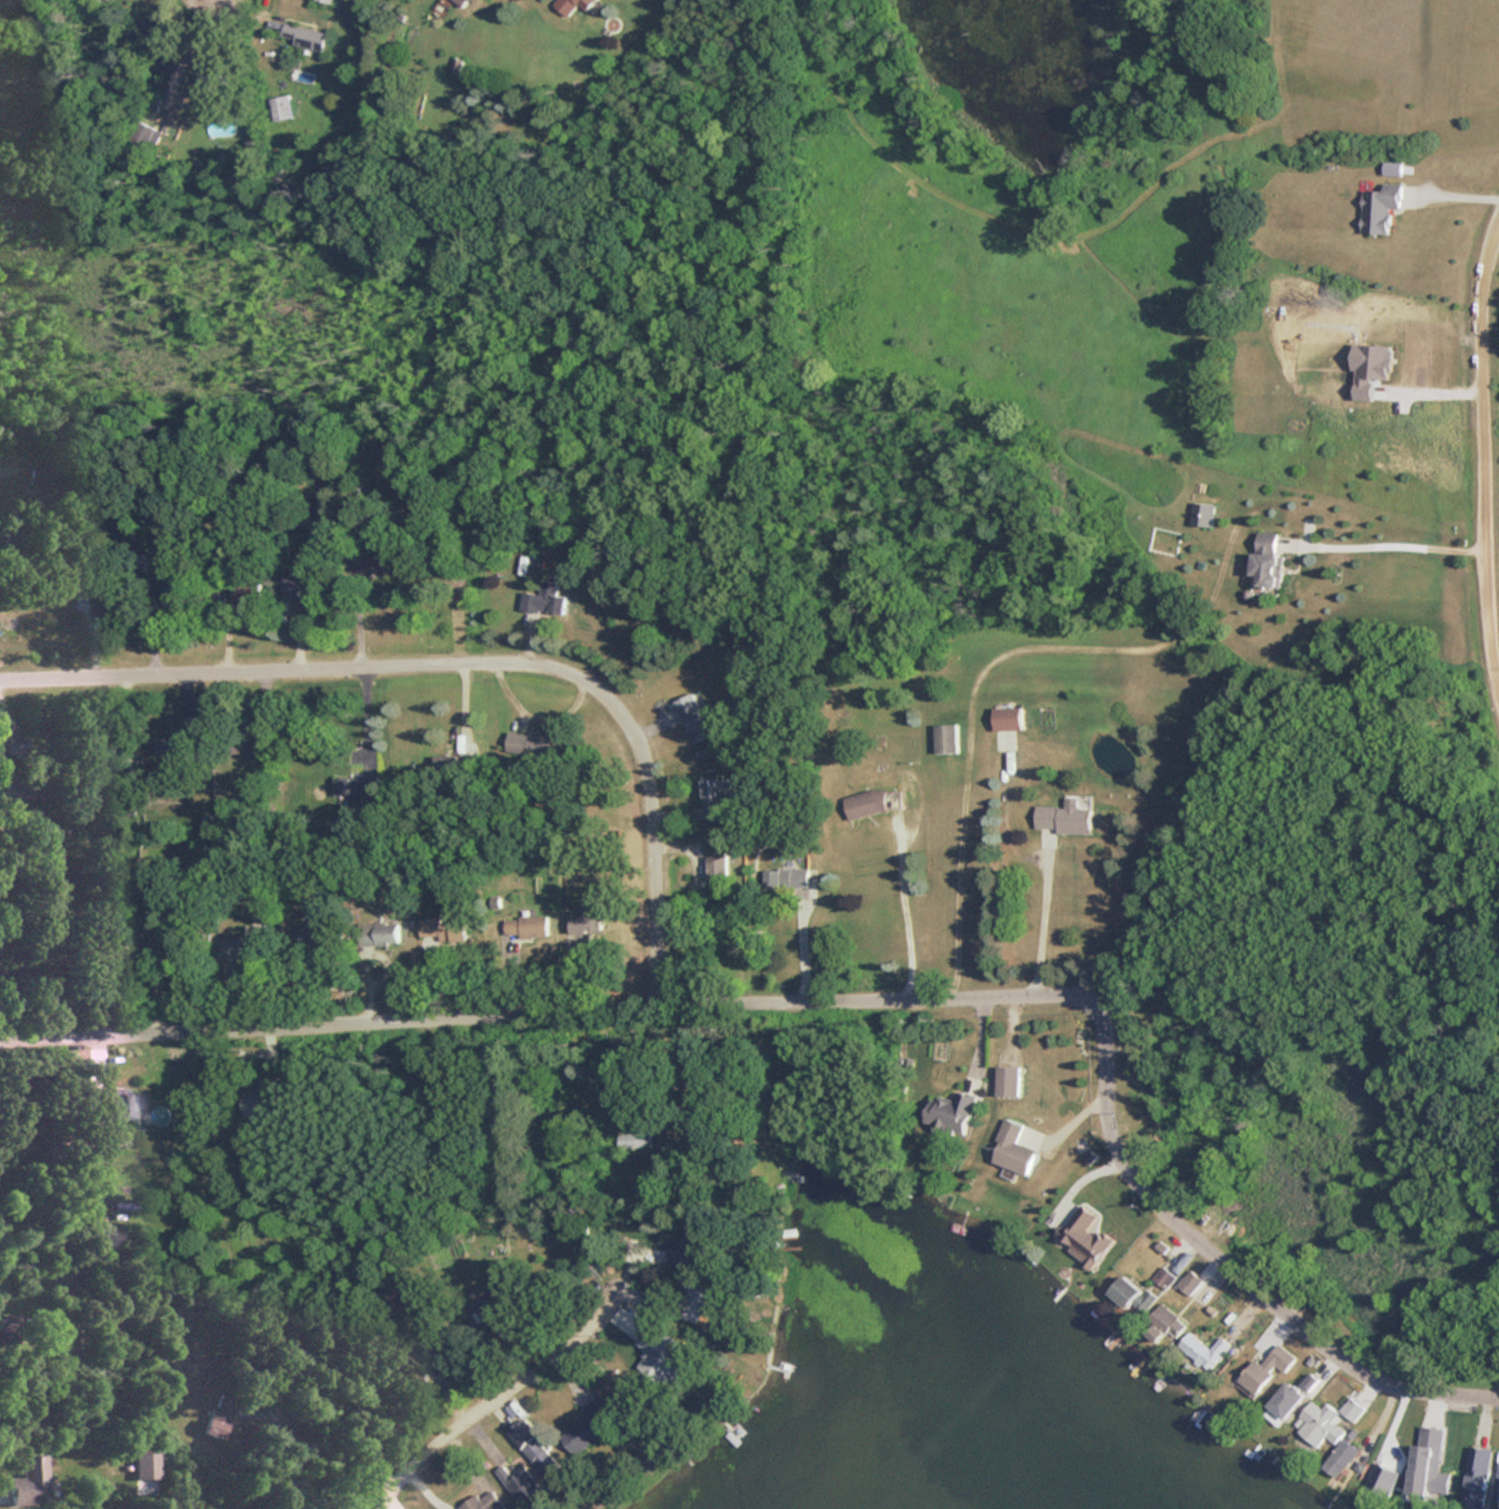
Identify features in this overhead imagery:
building: (459, 3)
building: (571, 5)
building: (303, 36)
road: (189, 46)
park: (1341, 46)
building: (221, 81)
building: (278, 107)
building: (143, 135)
road: (1452, 194)
building: (1377, 207)
road: (1490, 443)
building: (1201, 515)
road: (1406, 546)
building: (377, 556)
building: (1266, 562)
building: (301, 586)
building: (546, 600)
road: (473, 656)
building: (691, 718)
building: (1007, 719)
building: (945, 738)
building: (529, 746)
building: (712, 799)
building: (864, 803)
building: (1064, 816)
building: (715, 870)
building: (779, 878)
road: (906, 917)
building: (584, 925)
building: (523, 926)
building: (440, 928)
road: (1041, 928)
building: (313, 938)
road: (808, 946)
building: (238, 949)
building: (163, 952)
road: (559, 1010)
building: (1007, 1082)
building: (260, 1102)
building: (115, 1103)
building: (950, 1114)
building: (631, 1141)
building: (1012, 1149)
building: (1085, 1239)
building: (689, 1249)
road: (1239, 1273)
building: (1165, 1277)
building: (393, 1294)
building: (1133, 1296)
building: (487, 1301)
building: (693, 1301)
building: (1168, 1322)
building: (1205, 1350)
building: (440, 1357)
building: (1264, 1371)
road: (515, 1373)
building: (1310, 1382)
building: (614, 1383)
building: (1285, 1404)
building: (1353, 1410)
building: (213, 1418)
building: (1319, 1425)
building: (587, 1428)
building: (535, 1449)
building: (1341, 1459)
building: (1423, 1469)
building: (1381, 1475)
building: (1476, 1476)
building: (26, 1482)
building: (521, 1486)
building: (482, 1502)

